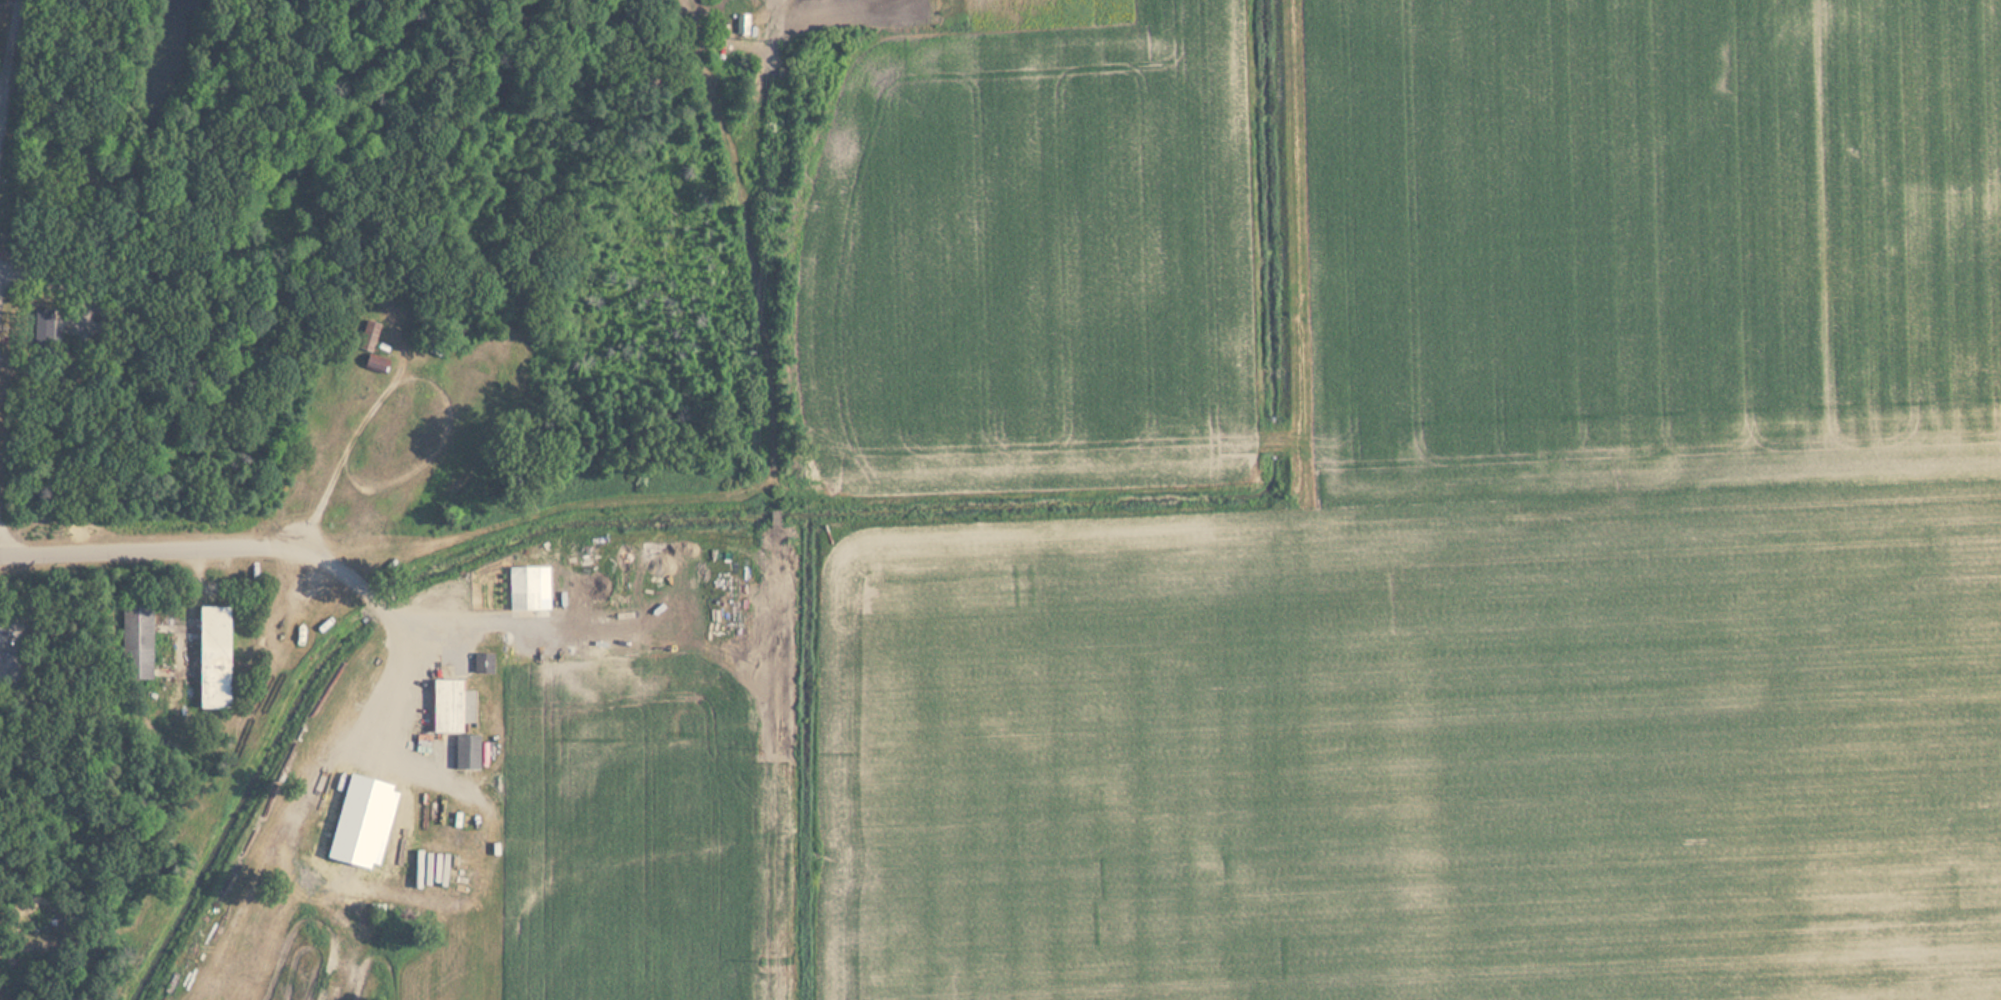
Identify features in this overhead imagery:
building: (741, 28)
road: (7, 54)
building: (73, 257)
building: (46, 325)
building: (367, 335)
building: (372, 363)
road: (418, 377)
road: (151, 546)
building: (522, 588)
building: (135, 635)
road: (407, 653)
building: (210, 657)
building: (481, 663)
building: (449, 705)
building: (465, 752)

